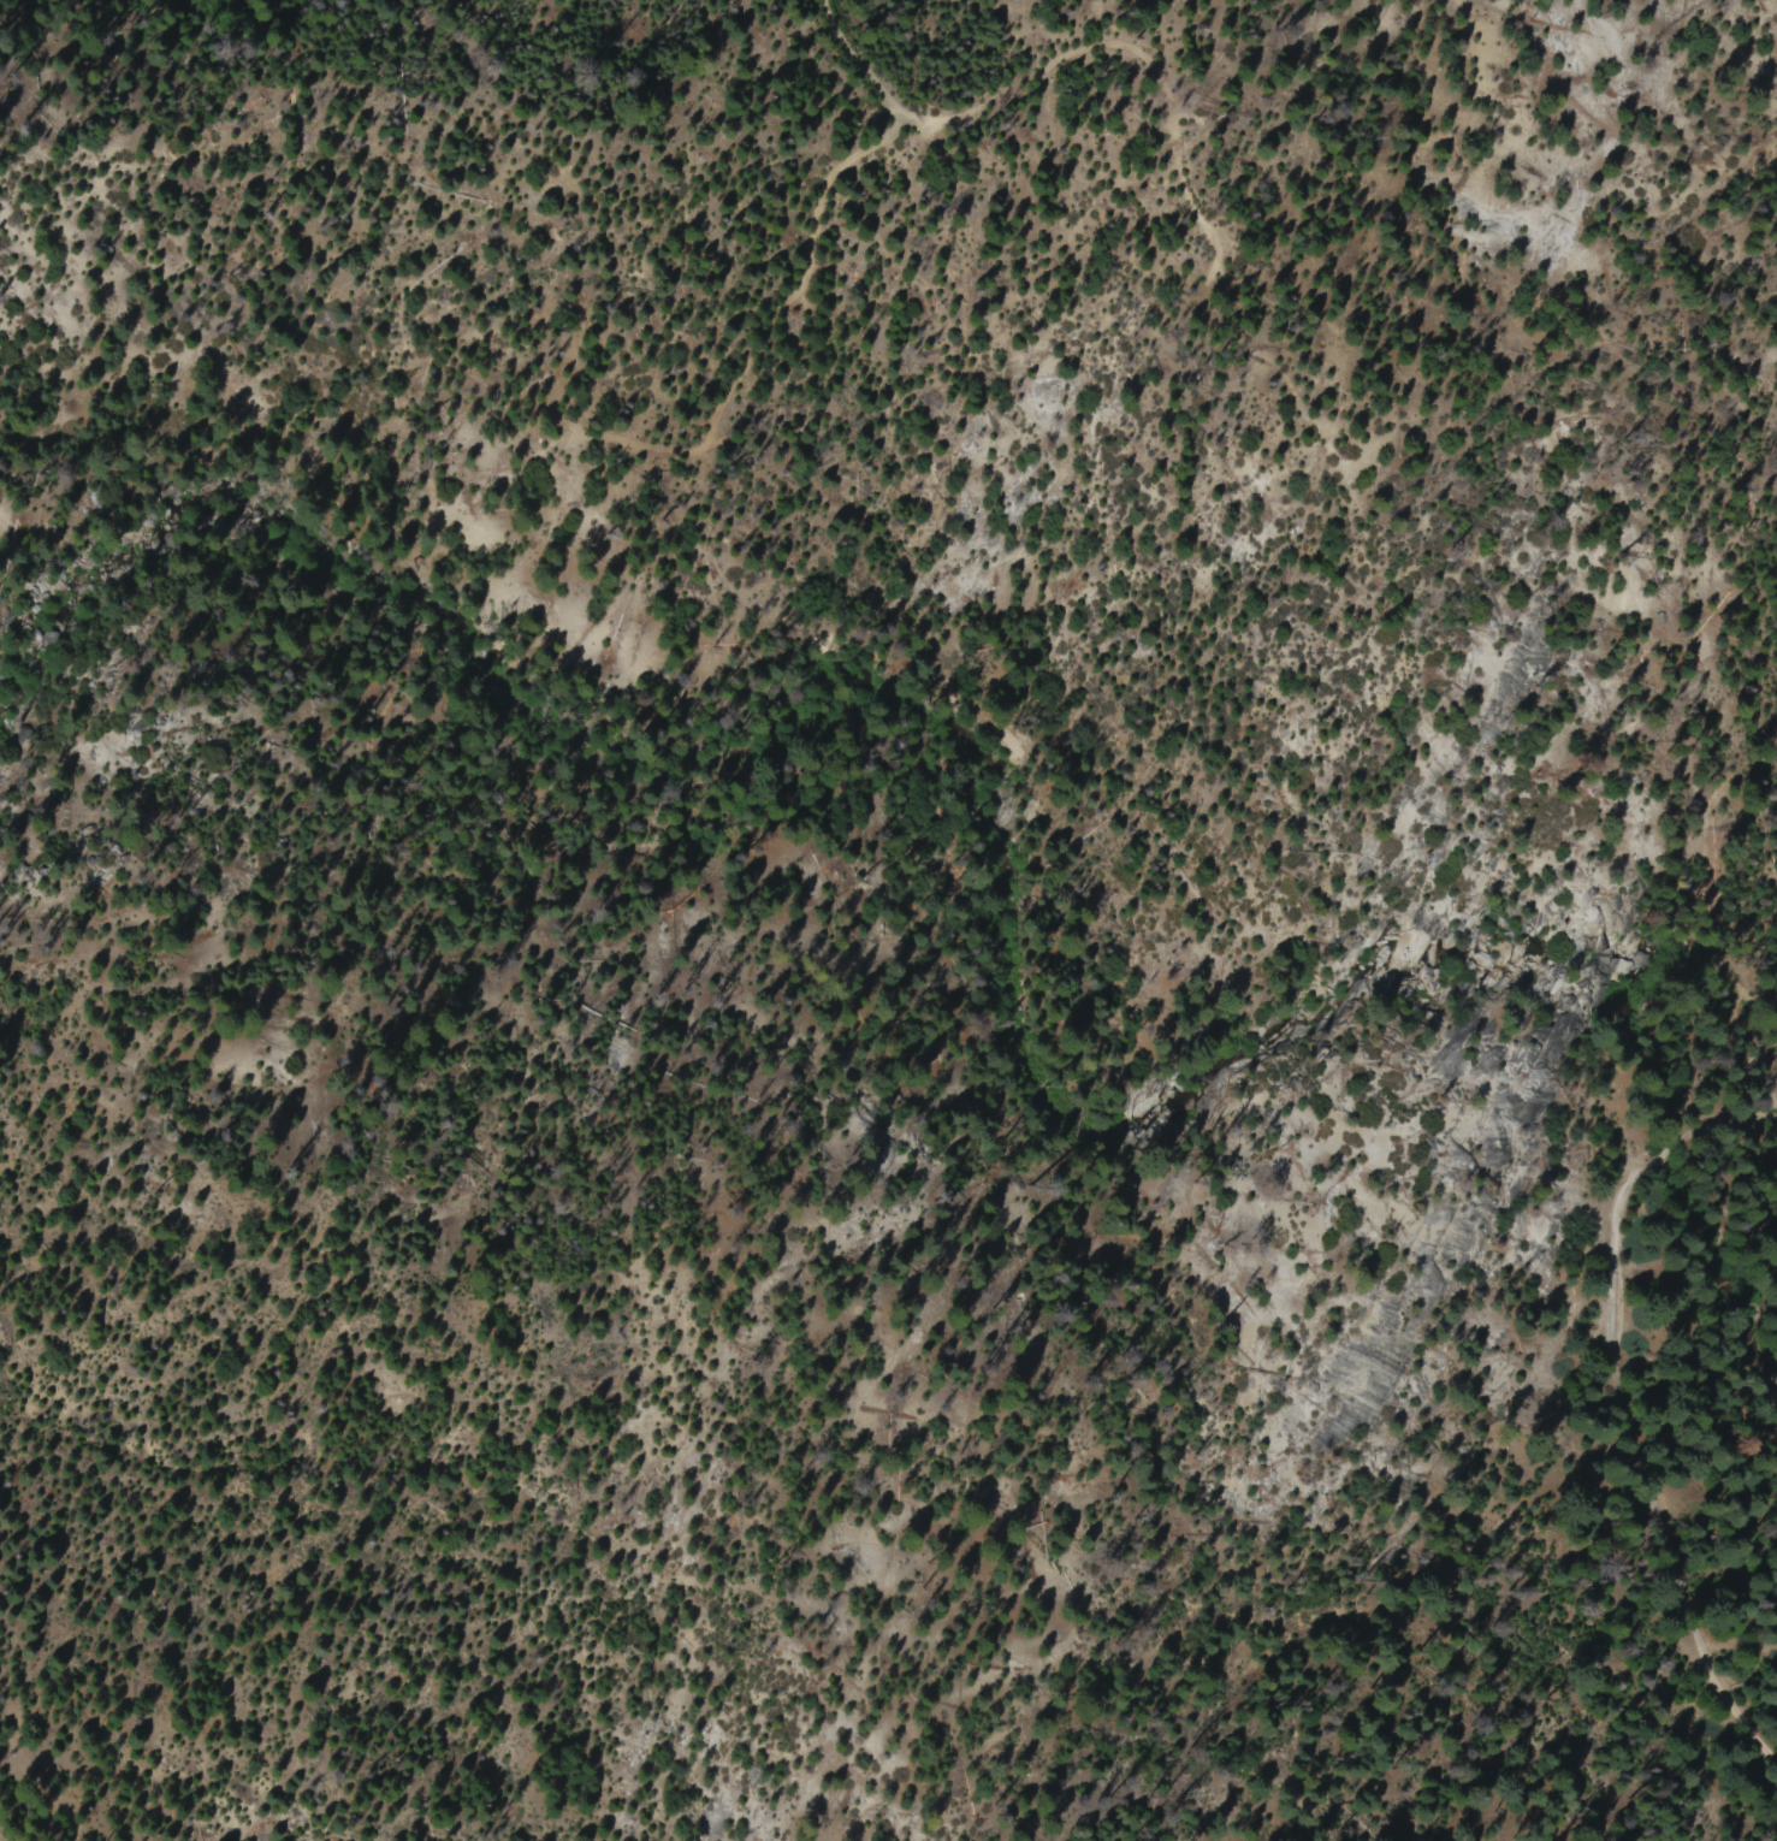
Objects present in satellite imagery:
road: (1169, 96)
road: (759, 343)
road: (1623, 1405)

